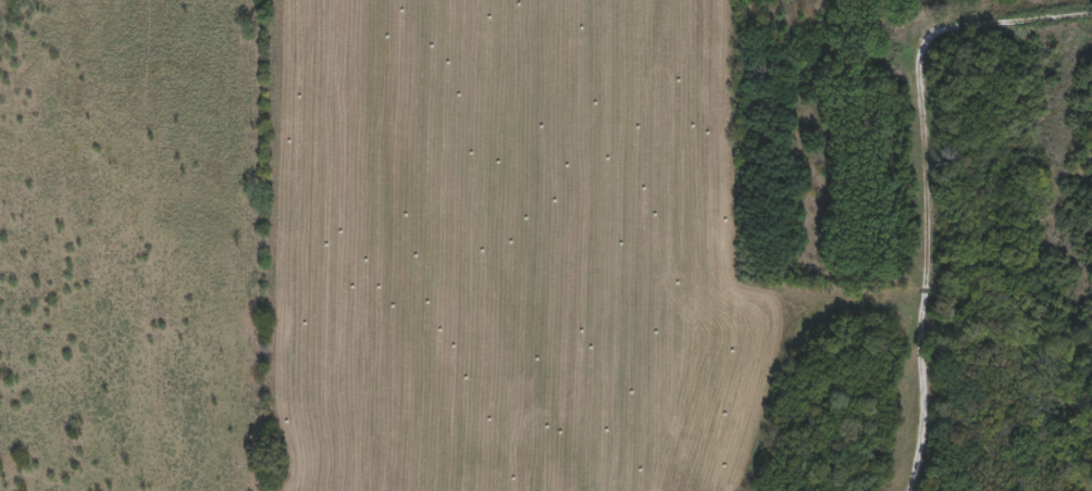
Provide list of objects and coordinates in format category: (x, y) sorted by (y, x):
road: (925, 178)

